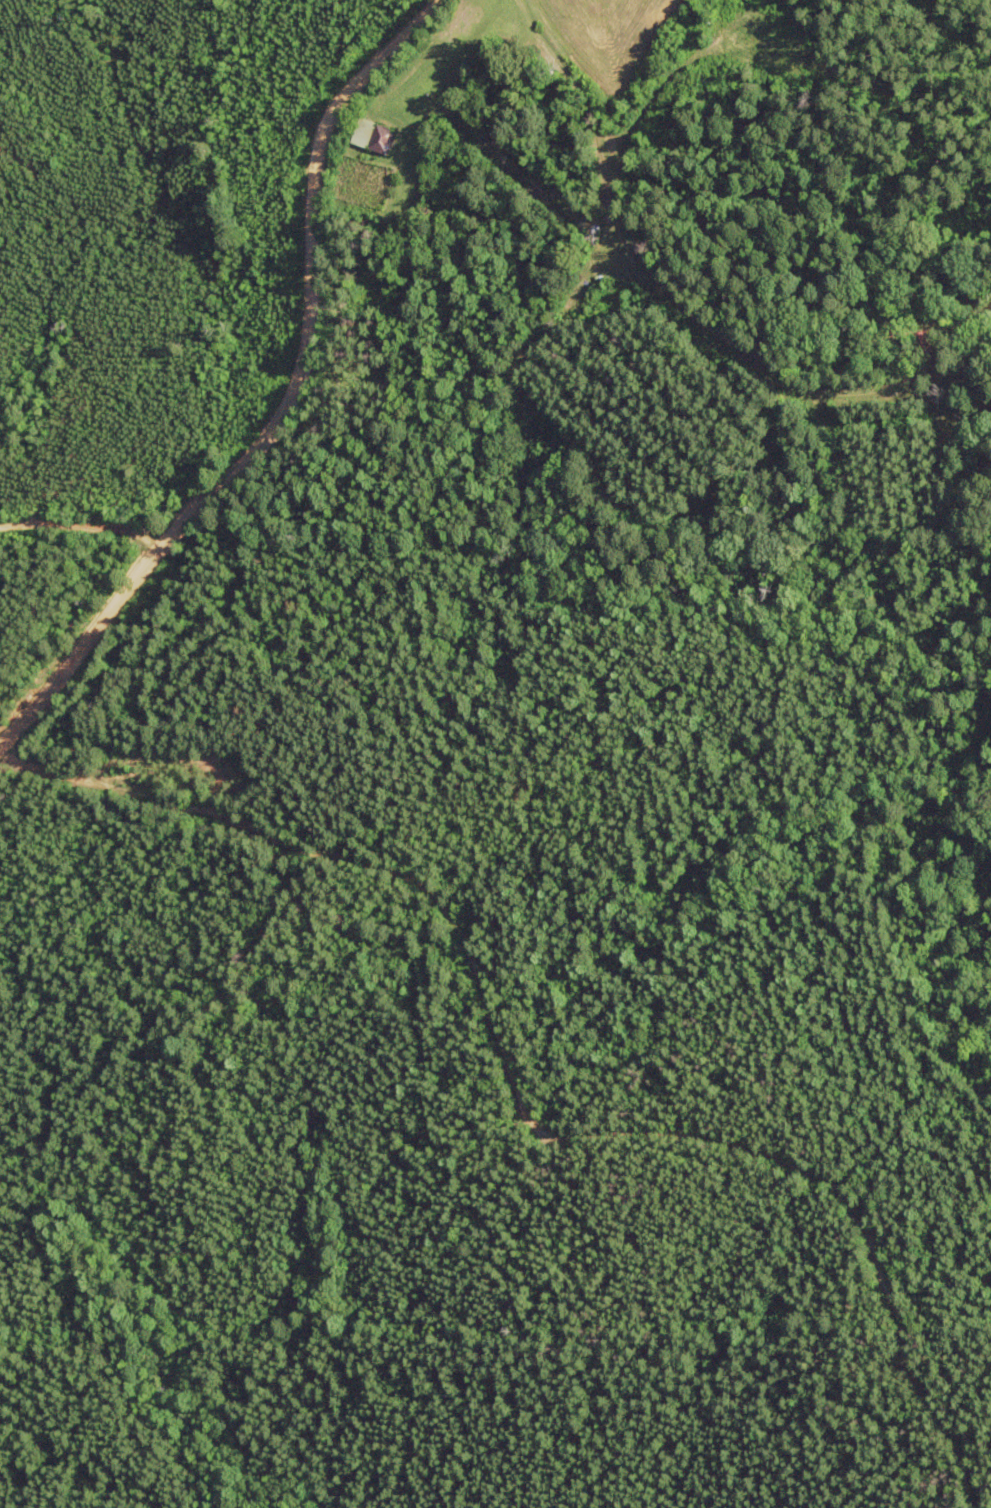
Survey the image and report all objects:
building: (374, 135)
road: (664, 289)
road: (294, 405)

